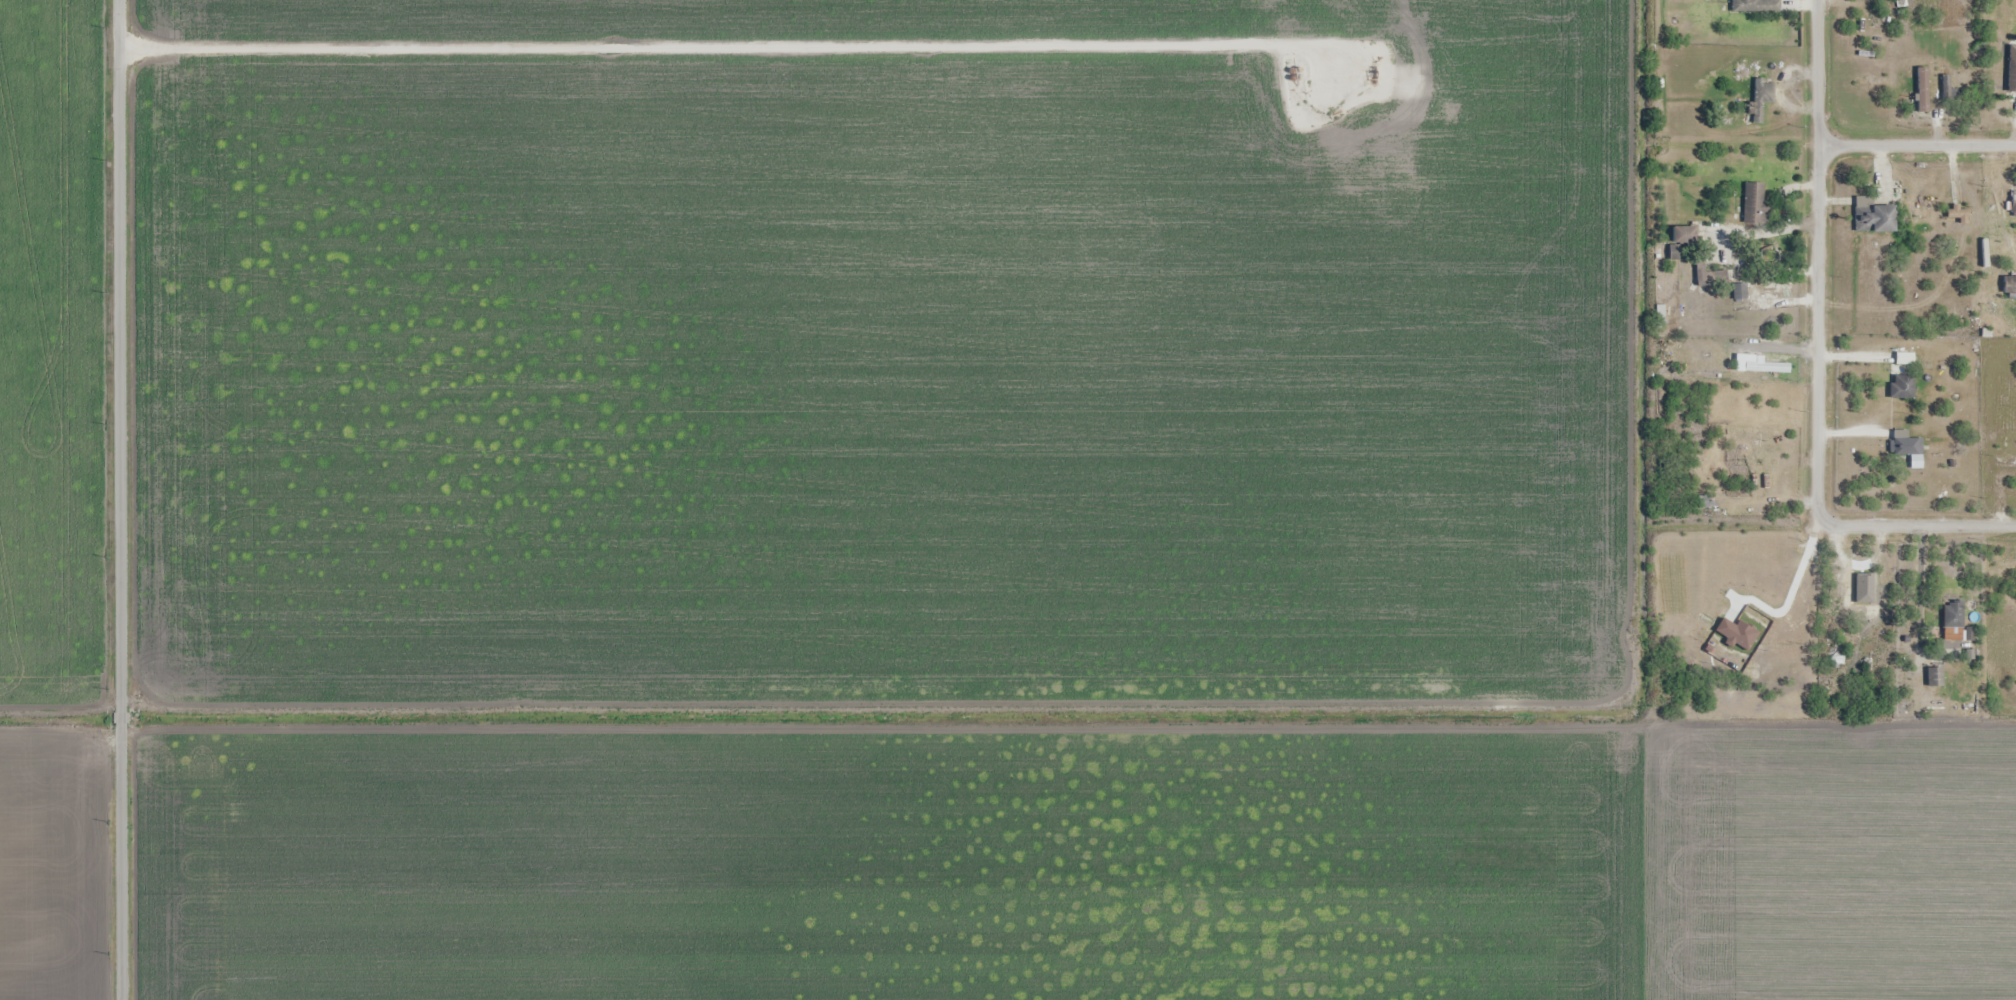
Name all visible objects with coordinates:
building: (1755, 6)
building: (2012, 74)
building: (1923, 89)
building: (1761, 98)
road: (1917, 144)
building: (2013, 202)
building: (1755, 204)
building: (1873, 216)
road: (1817, 262)
building: (1714, 276)
building: (2010, 286)
building: (1905, 359)
building: (1902, 386)
building: (1907, 447)
road: (120, 500)
building: (1706, 502)
road: (1919, 525)
building: (1866, 585)
building: (1953, 621)
building: (1935, 677)

